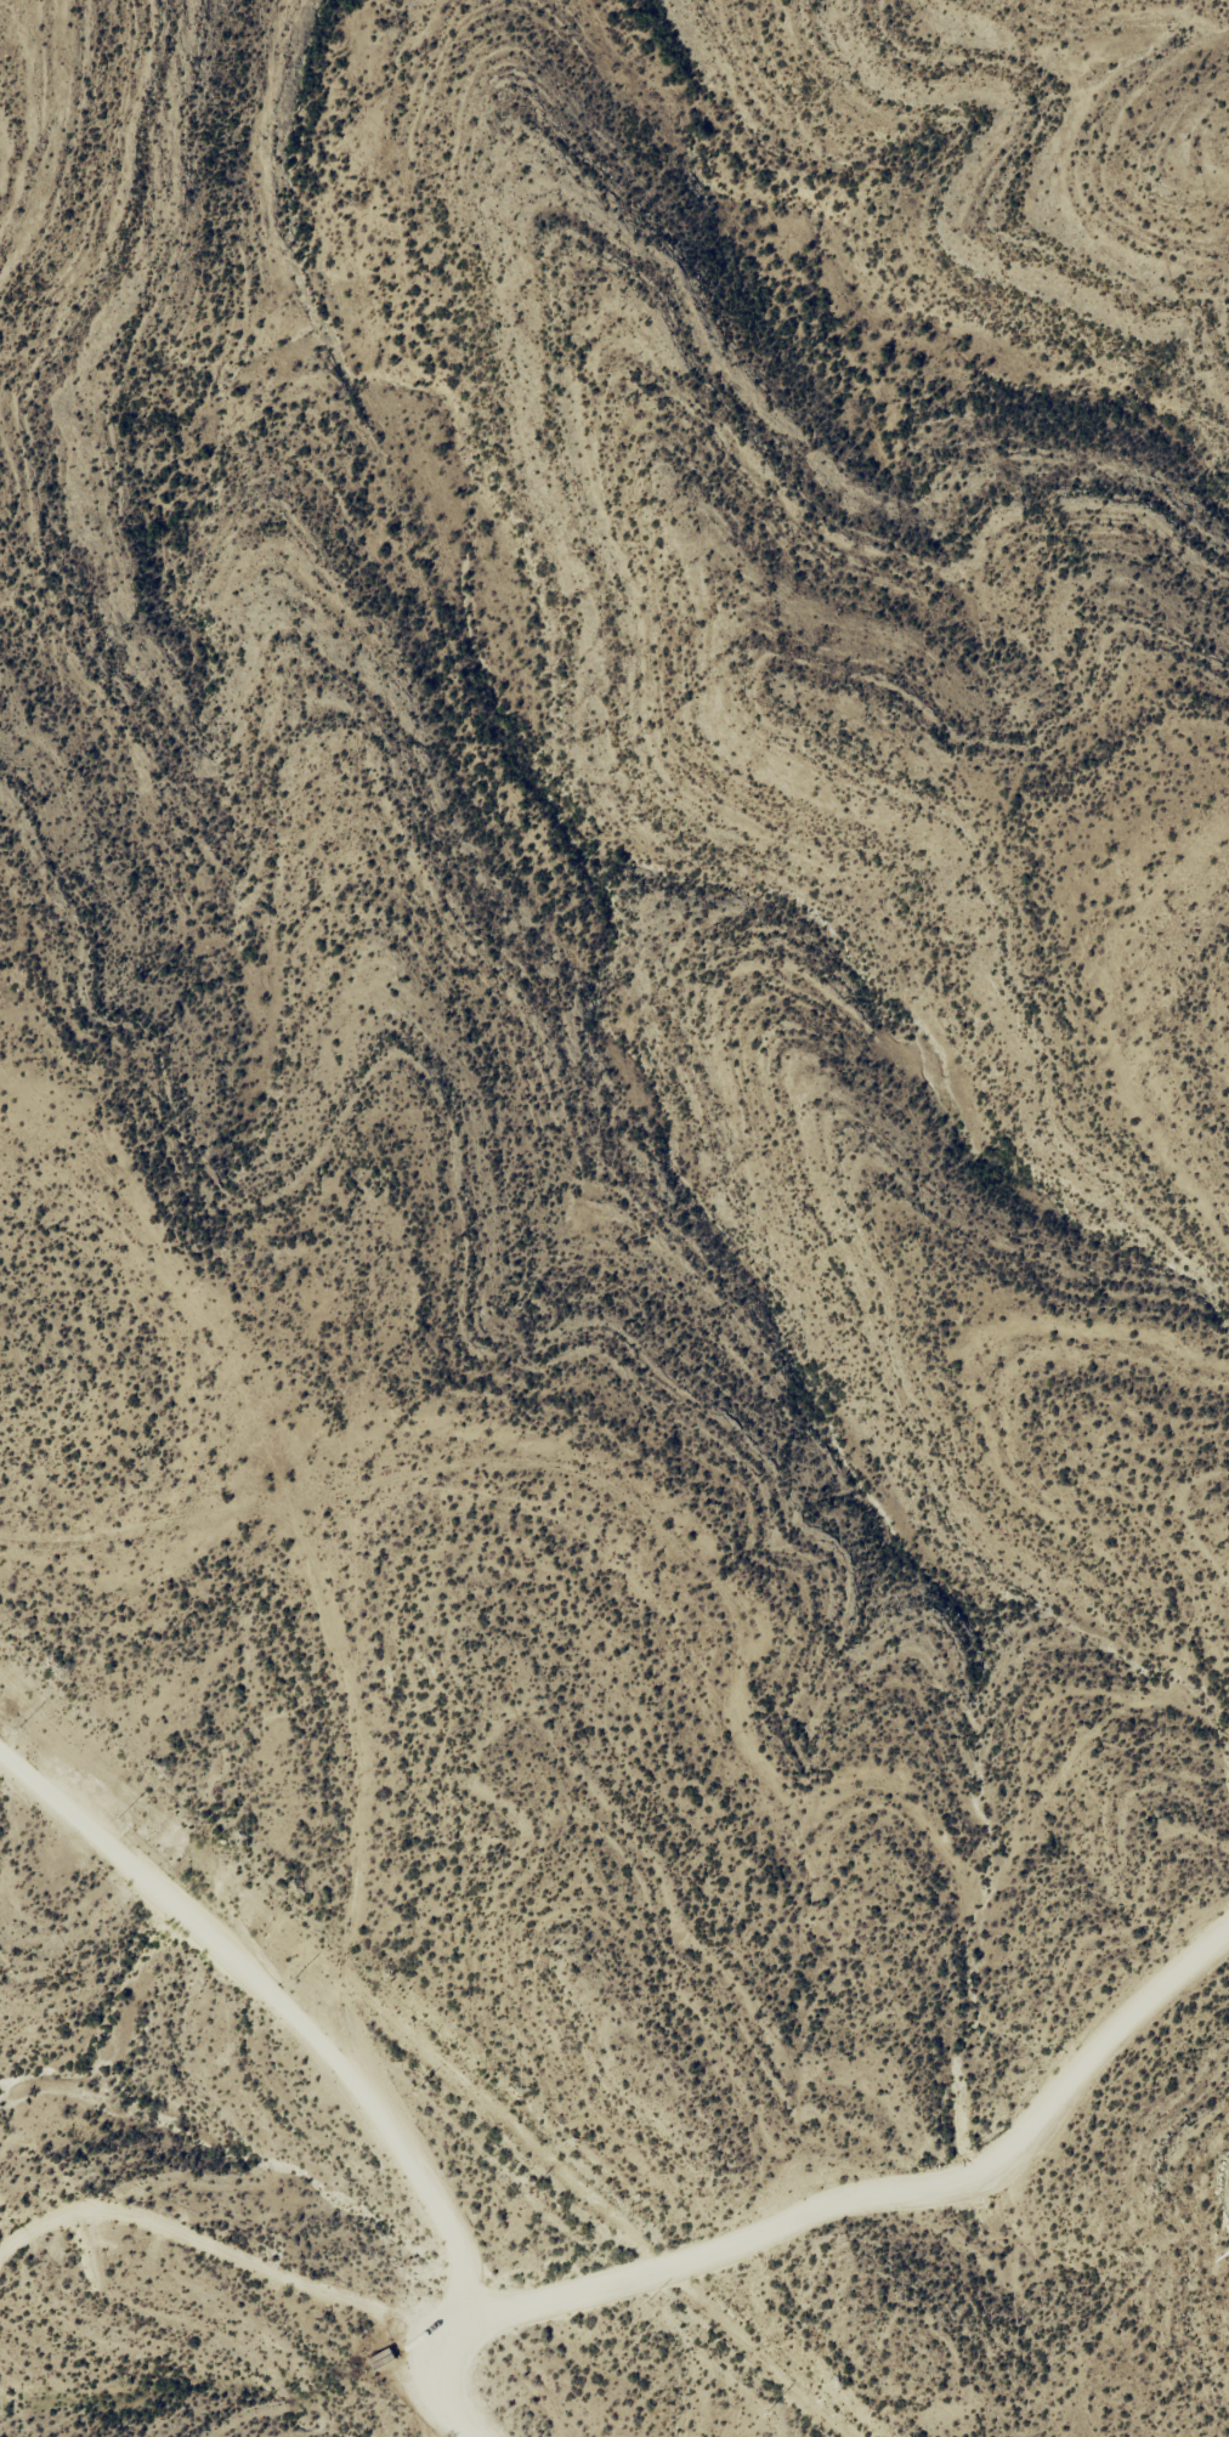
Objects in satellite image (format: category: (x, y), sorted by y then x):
road: (714, 1617)
road: (359, 2001)
road: (658, 2261)
road: (440, 2351)
building: (390, 2363)

